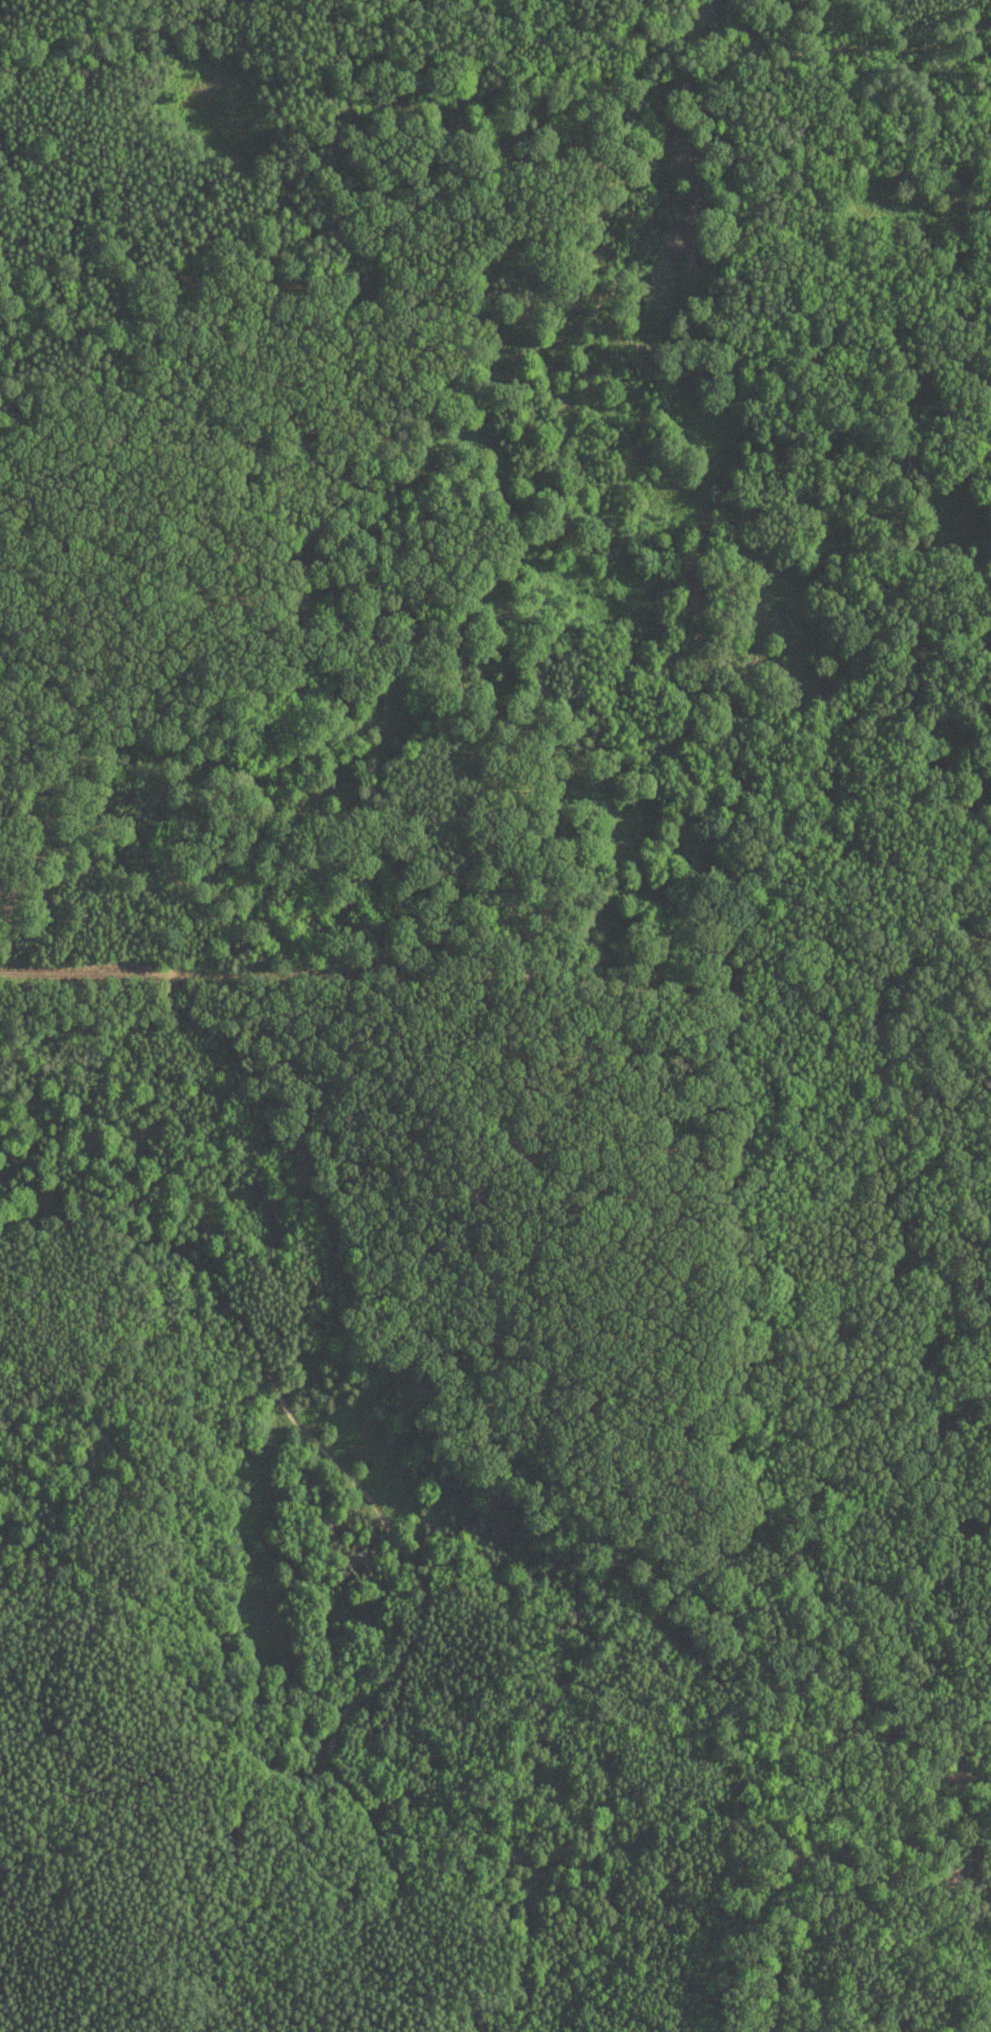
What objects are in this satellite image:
road: (263, 1545)
road: (412, 1563)

